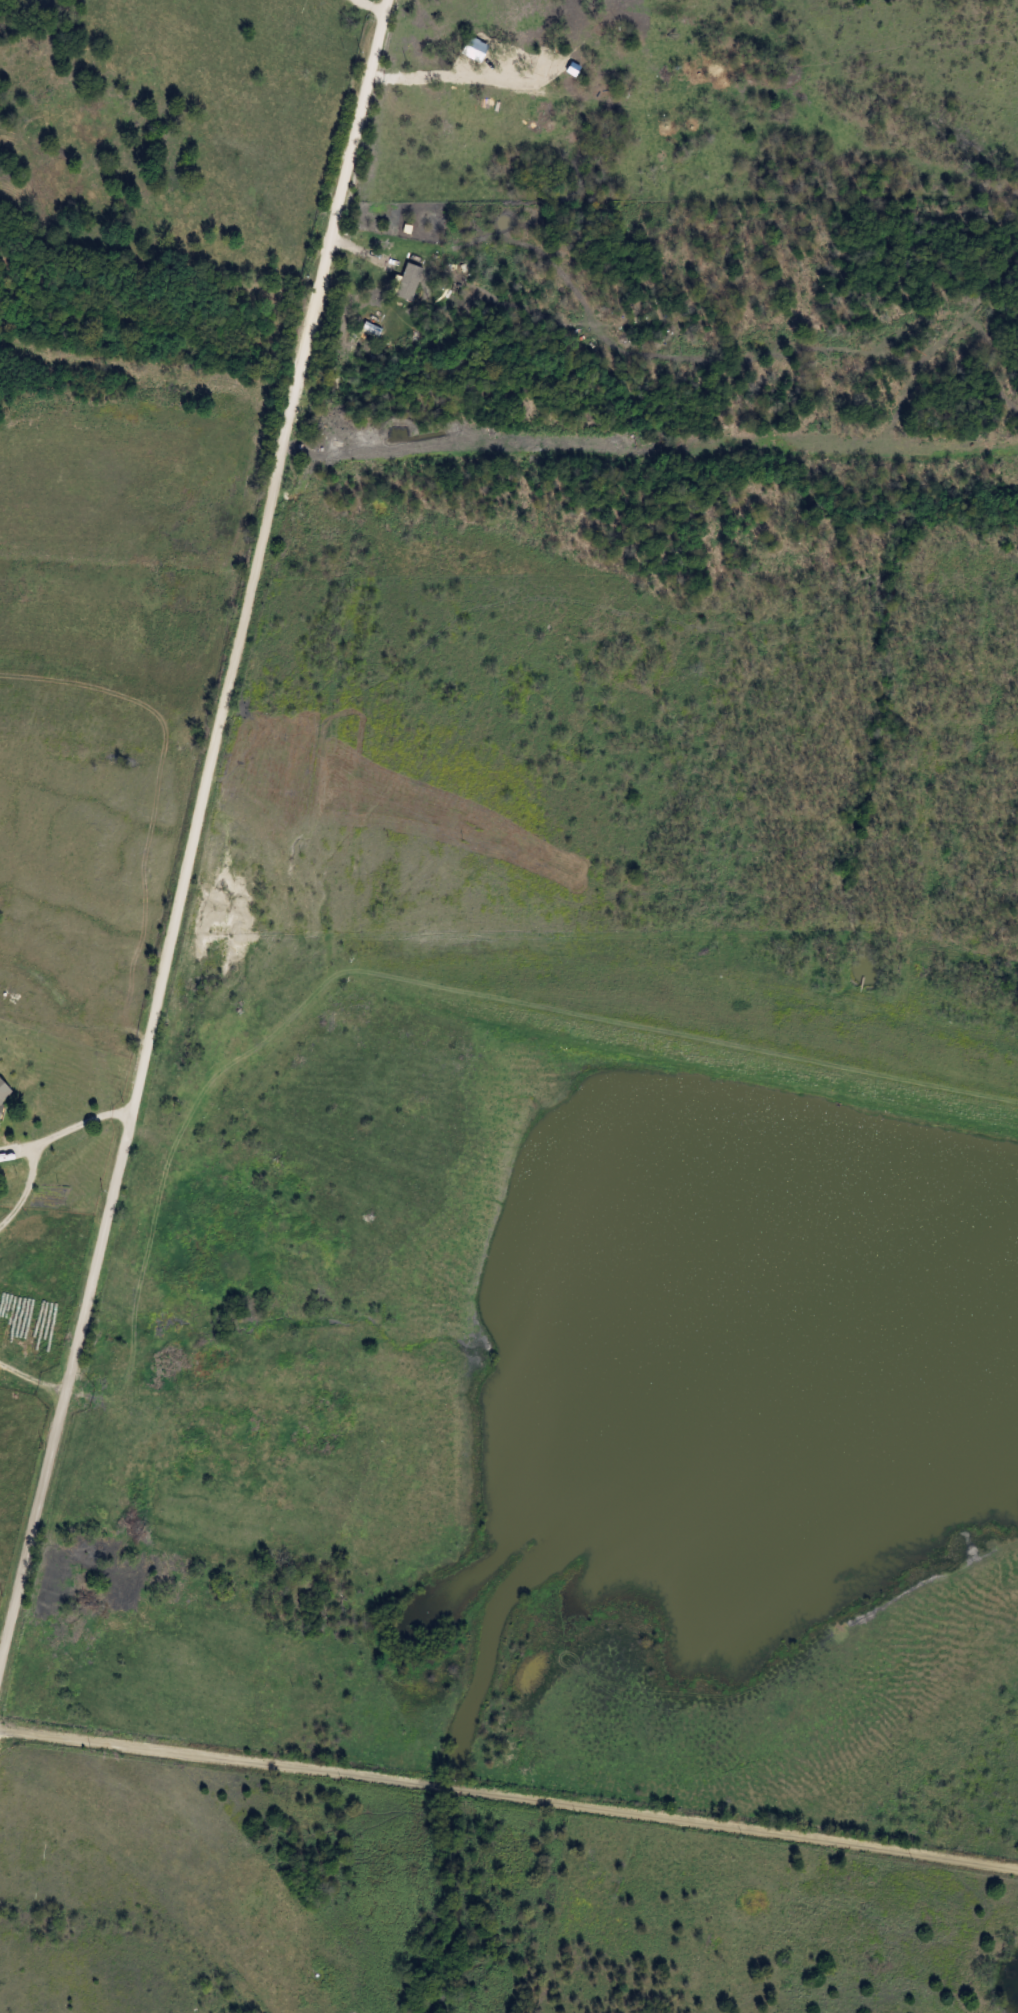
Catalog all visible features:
road: (368, 9)
road: (528, 75)
road: (165, 562)
road: (194, 830)
building: (0, 1106)
road: (44, 1146)
building: (759, 1213)
building: (866, 1337)
road: (32, 1379)
road: (509, 1793)

